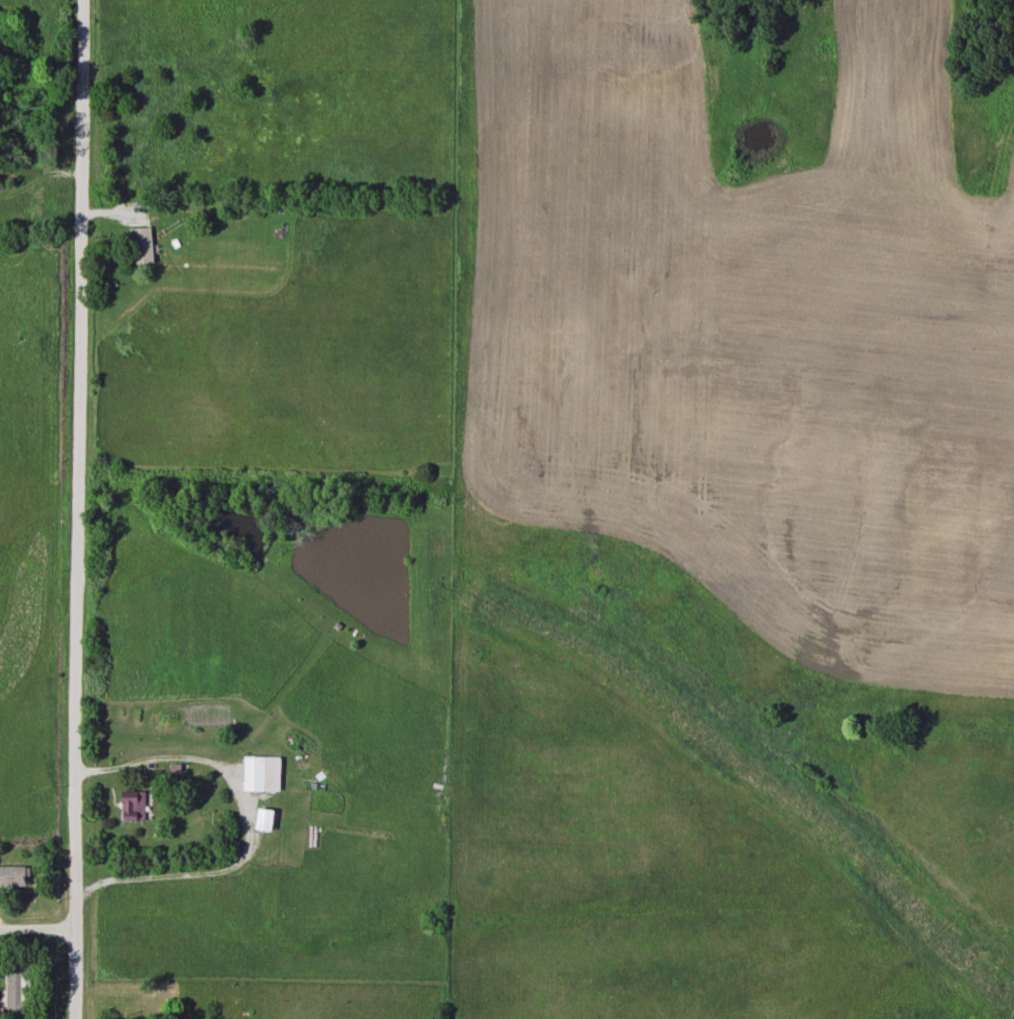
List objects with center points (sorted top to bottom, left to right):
road: (34, 190)
building: (141, 247)
road: (69, 483)
building: (252, 775)
building: (132, 807)
road: (242, 825)
building: (14, 878)
road: (34, 930)
building: (16, 993)
road: (69, 993)

